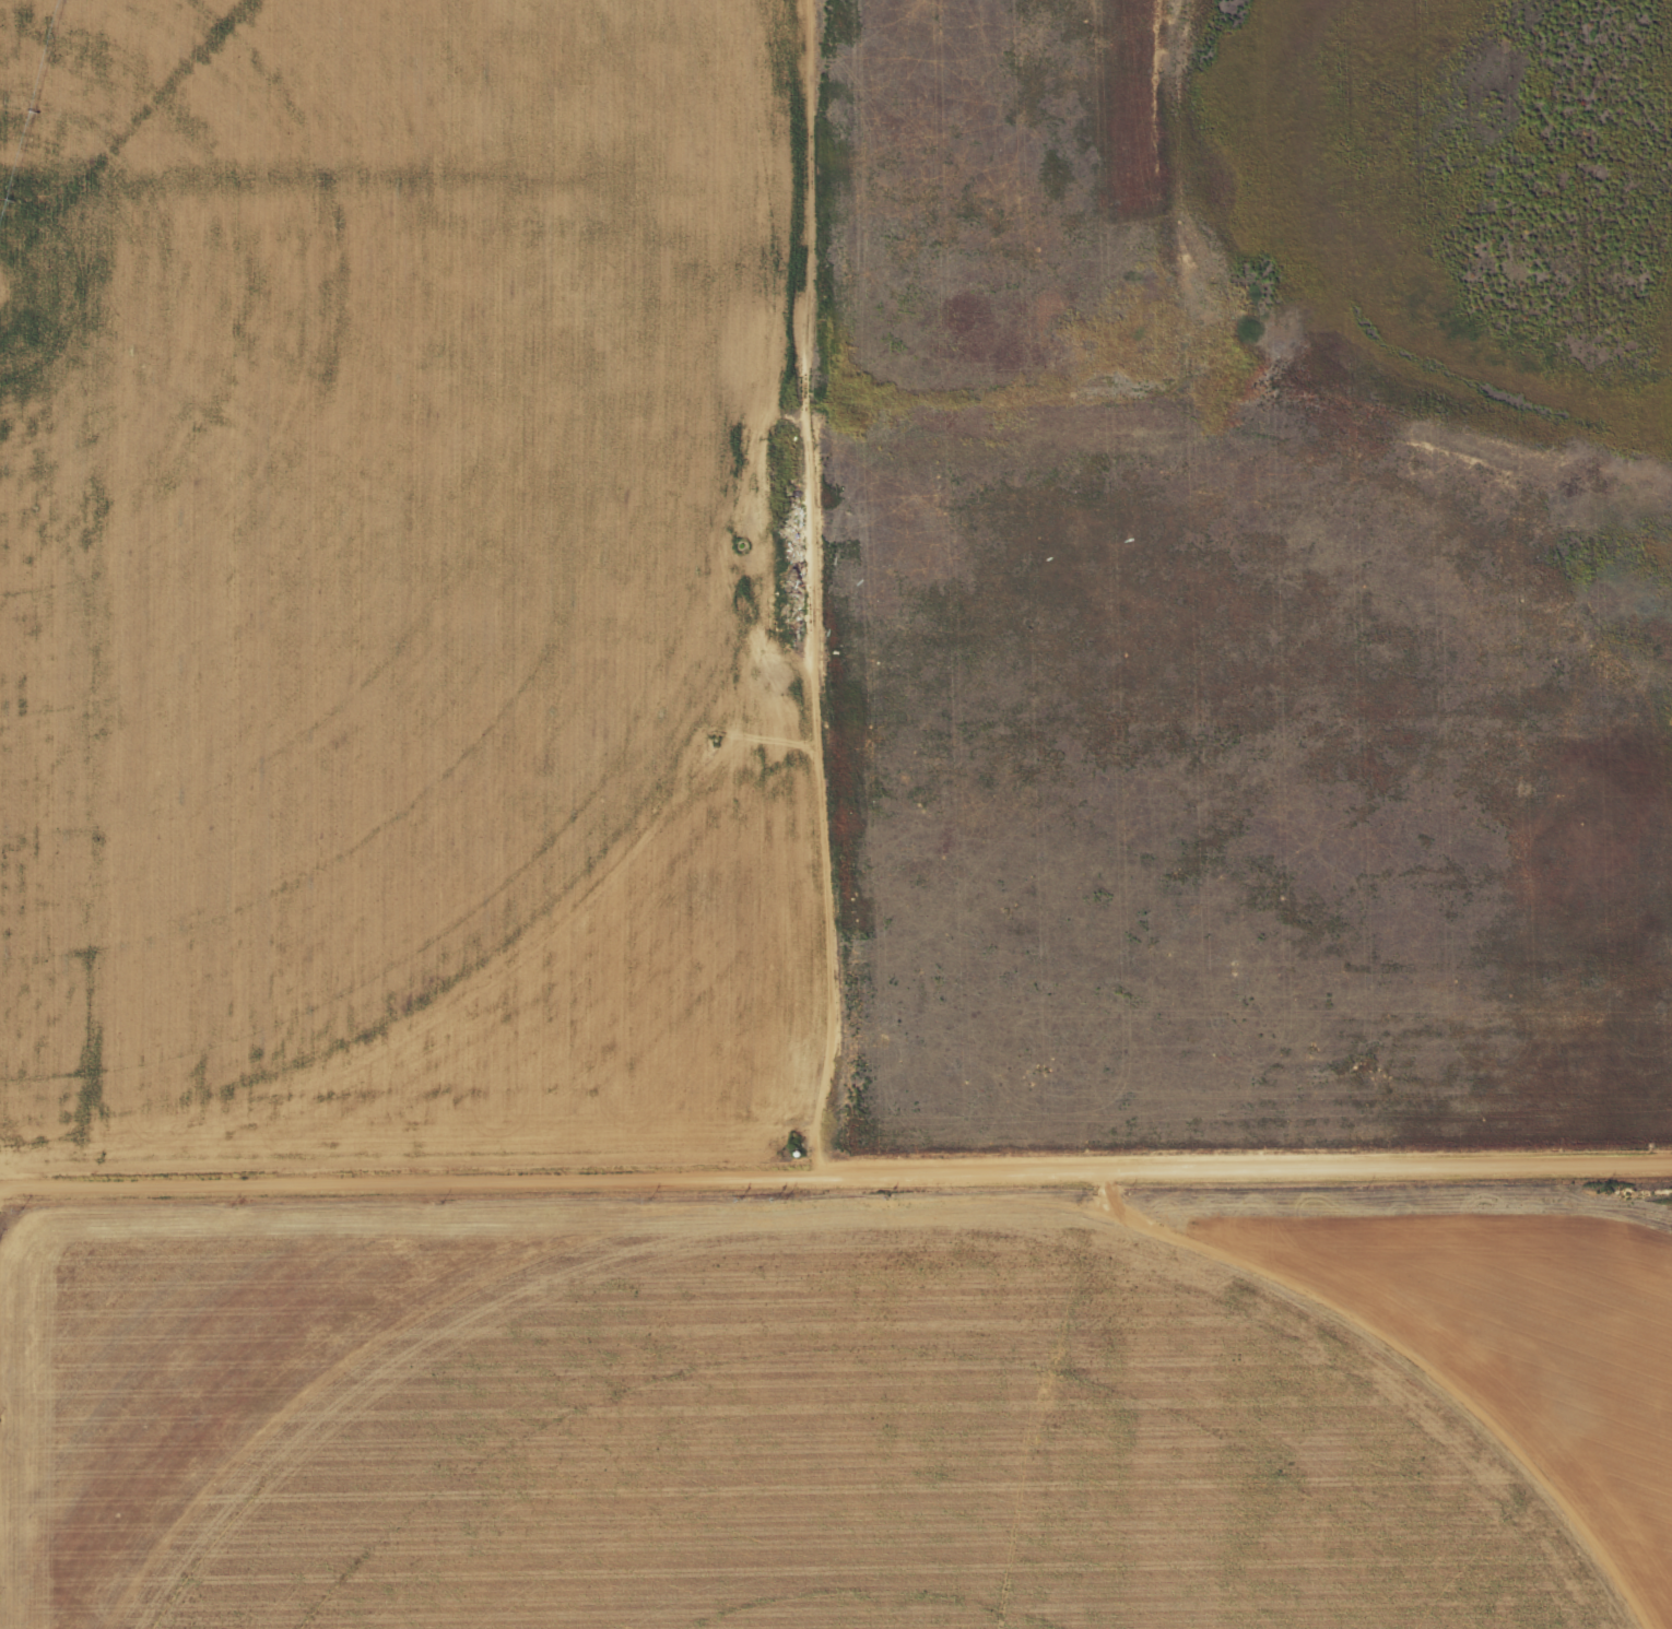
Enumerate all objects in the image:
road: (836, 1178)

